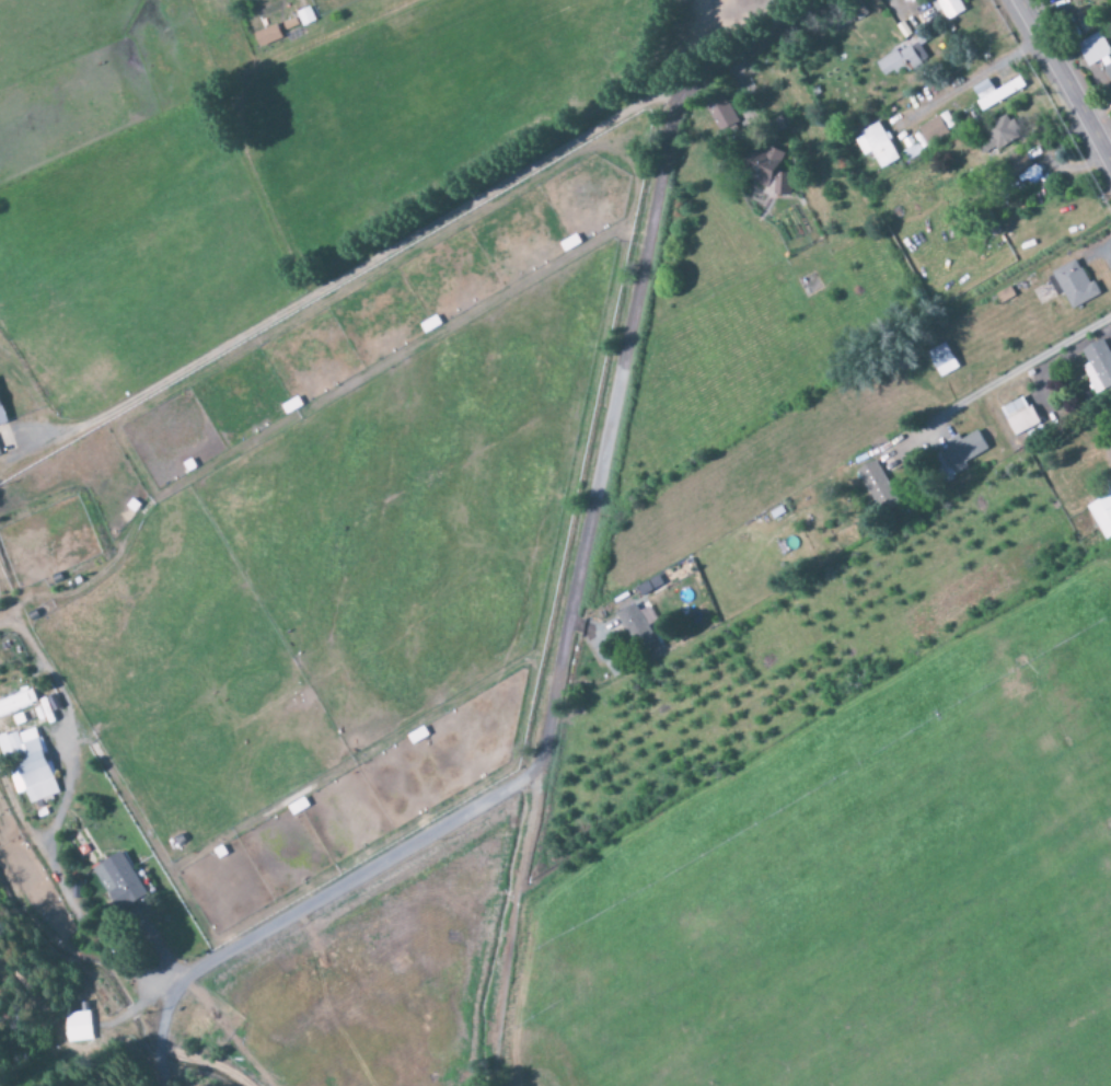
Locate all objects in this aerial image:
building: (1081, 0)
building: (949, 8)
building: (849, 14)
building: (904, 28)
building: (1092, 49)
building: (898, 60)
building: (1108, 71)
road: (1064, 81)
building: (993, 93)
building: (935, 128)
building: (873, 147)
building: (1017, 162)
building: (762, 170)
building: (1072, 285)
building: (940, 360)
building: (1097, 366)
building: (2, 416)
building: (1016, 416)
building: (956, 454)
building: (873, 486)
building: (1101, 513)
building: (651, 586)
road: (576, 594)
building: (637, 627)
building: (18, 702)
building: (31, 763)
building: (120, 881)
building: (77, 1027)

